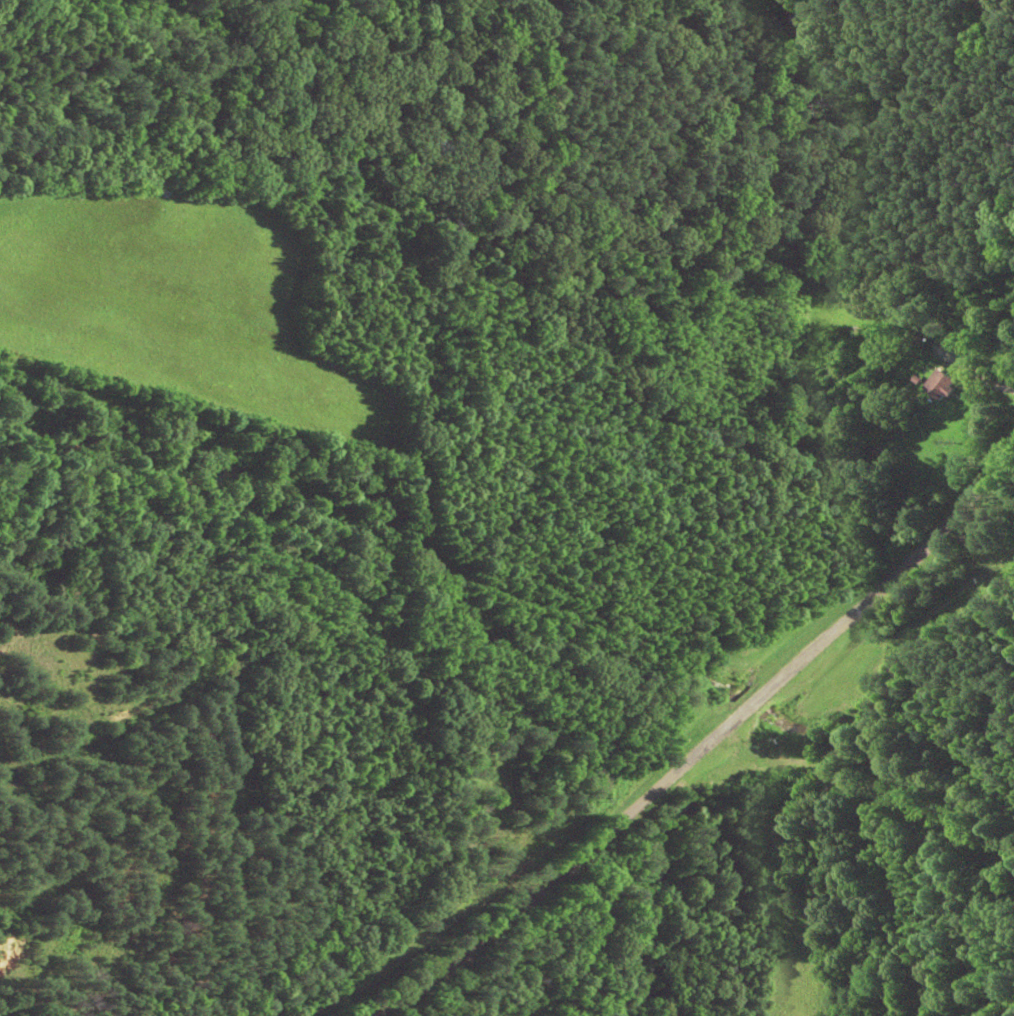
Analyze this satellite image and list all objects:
building: (937, 386)
road: (646, 706)

